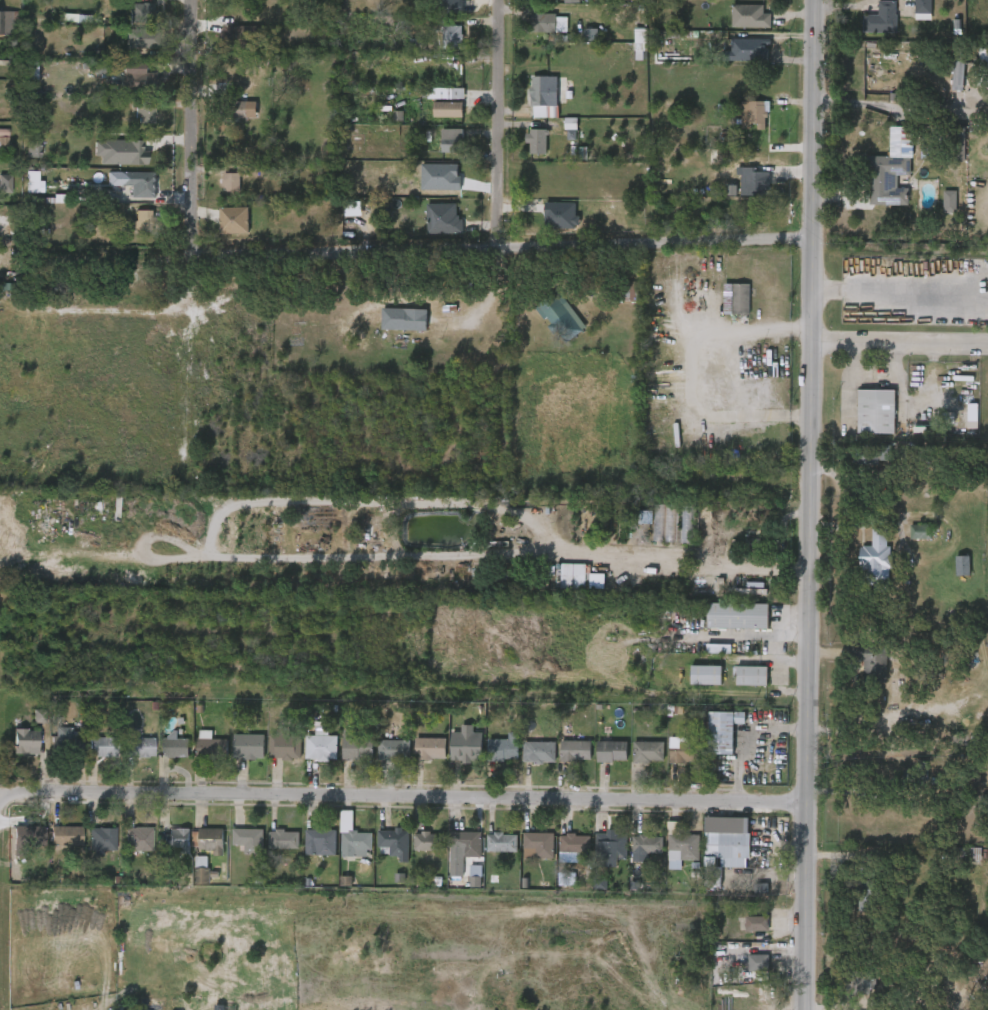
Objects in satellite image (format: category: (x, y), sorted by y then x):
building: (855, 0)
building: (869, 0)
building: (80, 1)
building: (734, 1)
building: (535, 3)
building: (437, 4)
building: (923, 9)
building: (144, 10)
building: (558, 10)
building: (750, 16)
building: (881, 17)
building: (910, 18)
building: (542, 22)
building: (6, 23)
building: (127, 24)
building: (736, 28)
building: (868, 30)
building: (535, 35)
building: (451, 36)
building: (145, 38)
building: (219, 46)
building: (439, 49)
building: (753, 50)
building: (132, 51)
building: (734, 62)
building: (977, 72)
building: (136, 79)
building: (124, 90)
building: (543, 92)
building: (445, 93)
road: (878, 104)
building: (432, 105)
road: (945, 106)
building: (240, 108)
building: (531, 108)
building: (447, 109)
building: (144, 111)
building: (752, 115)
building: (232, 121)
building: (434, 121)
road: (198, 126)
building: (740, 126)
building: (132, 127)
building: (451, 140)
building: (537, 140)
building: (438, 151)
building: (523, 153)
building: (20, 161)
building: (106, 163)
road: (505, 164)
building: (887, 178)
building: (752, 180)
building: (4, 181)
building: (231, 181)
building: (874, 191)
building: (218, 194)
building: (740, 194)
building: (17, 195)
building: (125, 195)
building: (949, 200)
building: (936, 213)
building: (145, 219)
building: (430, 230)
building: (130, 232)
building: (221, 232)
road: (445, 249)
road: (907, 302)
building: (723, 310)
building: (405, 320)
building: (545, 324)
building: (391, 331)
road: (900, 344)
road: (690, 371)
building: (876, 410)
building: (862, 423)
building: (959, 427)
building: (861, 453)
building: (853, 471)
road: (810, 505)
building: (631, 528)
building: (919, 531)
building: (650, 534)
building: (673, 536)
building: (907, 543)
road: (432, 555)
building: (738, 555)
building: (875, 560)
building: (561, 587)
building: (585, 592)
building: (737, 616)
building: (724, 627)
building: (718, 649)
building: (858, 673)
building: (705, 674)
building: (750, 676)
building: (692, 686)
building: (738, 687)
building: (722, 730)
road: (750, 740)
building: (25, 741)
building: (67, 742)
building: (709, 742)
building: (466, 745)
building: (249, 746)
building: (357, 746)
building: (103, 747)
building: (285, 747)
building: (321, 747)
building: (139, 748)
building: (175, 748)
building: (212, 748)
building: (504, 748)
building: (431, 749)
building: (394, 750)
building: (53, 751)
building: (576, 751)
building: (612, 751)
building: (685, 751)
building: (539, 752)
building: (12, 753)
building: (648, 753)
building: (450, 755)
building: (198, 756)
building: (308, 756)
building: (344, 756)
building: (161, 757)
building: (235, 757)
building: (271, 757)
building: (89, 758)
building: (128, 758)
building: (417, 759)
building: (492, 759)
building: (380, 761)
building: (562, 761)
building: (668, 761)
building: (598, 762)
building: (526, 763)
building: (635, 763)
road: (404, 802)
road: (1, 807)
building: (28, 835)
building: (66, 836)
building: (138, 839)
building: (174, 839)
building: (210, 839)
building: (101, 840)
building: (248, 840)
building: (283, 840)
building: (355, 842)
building: (430, 842)
building: (320, 843)
building: (501, 843)
building: (574, 844)
building: (393, 845)
building: (612, 845)
building: (647, 845)
building: (16, 846)
building: (538, 846)
building: (724, 846)
building: (53, 847)
building: (683, 848)
building: (125, 849)
building: (340, 849)
building: (164, 850)
building: (270, 850)
building: (461, 850)
building: (89, 851)
building: (198, 851)
building: (236, 851)
building: (411, 852)
building: (307, 853)
building: (382, 853)
building: (489, 853)
building: (561, 855)
building: (525, 856)
building: (632, 858)
building: (597, 859)
building: (450, 861)
building: (955, 864)
building: (462, 880)
building: (853, 907)
building: (755, 924)
building: (743, 934)
building: (757, 963)
building: (745, 974)
building: (861, 982)
building: (759, 992)
building: (849, 997)

